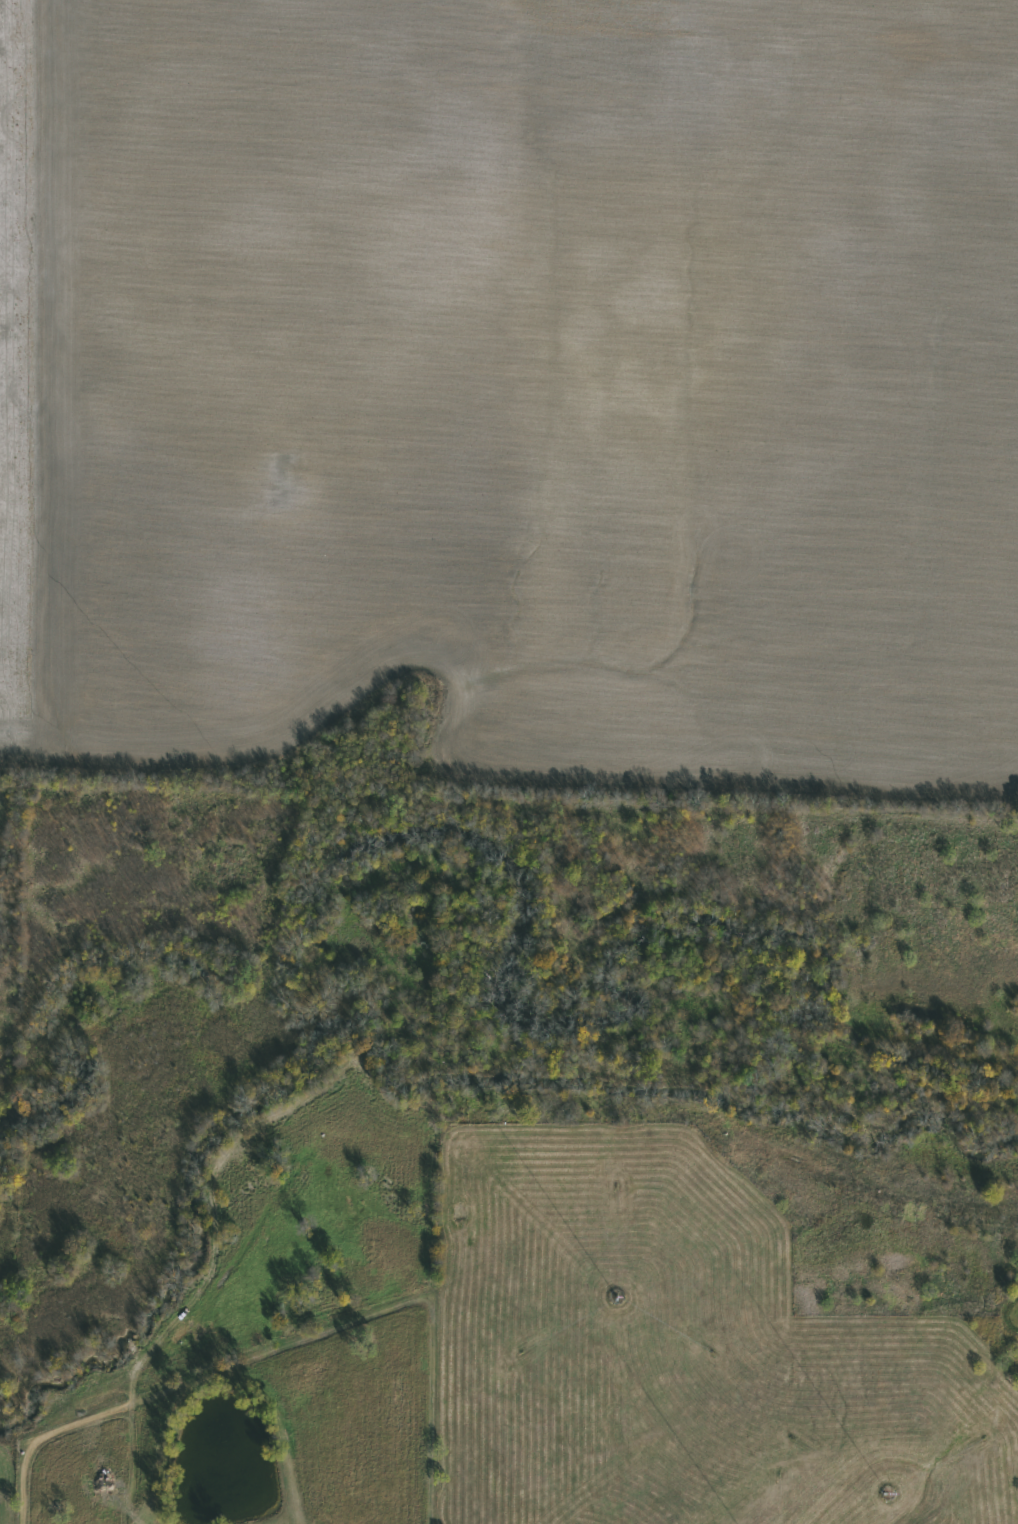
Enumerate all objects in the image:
crop: (514, 395)

